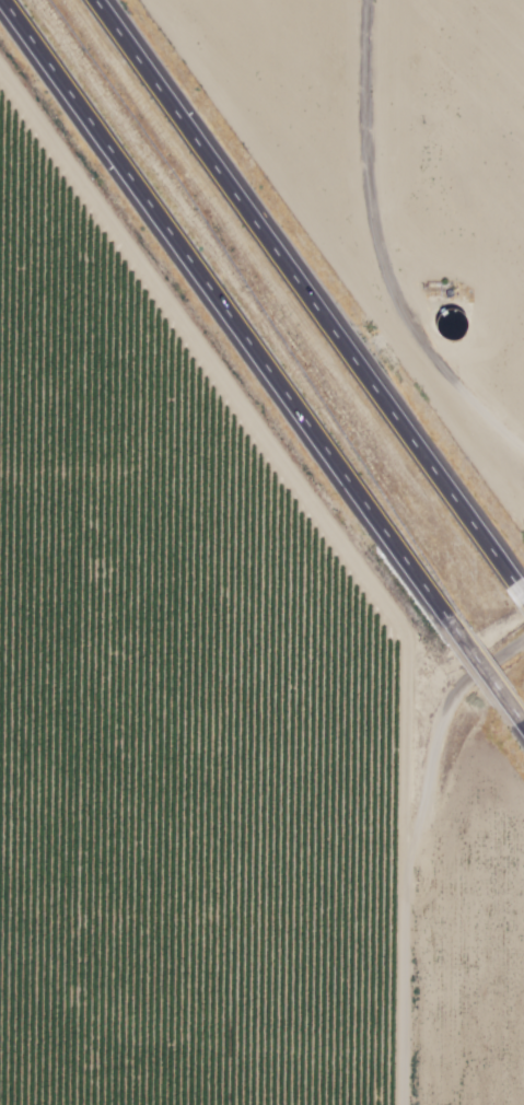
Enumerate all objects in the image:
road: (296, 293)
road: (220, 311)
road: (515, 597)
road: (478, 670)
road: (520, 725)

